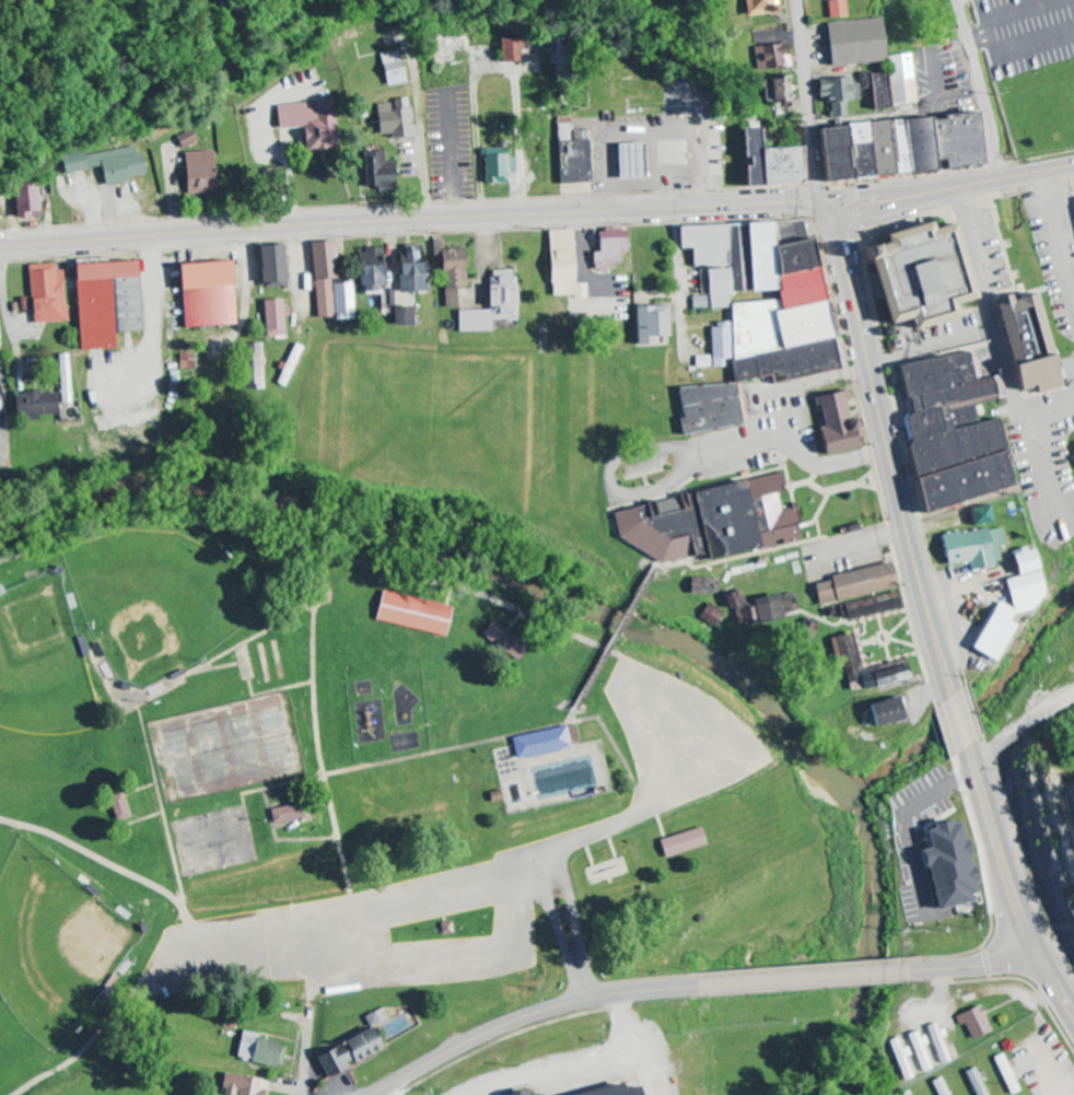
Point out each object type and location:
building: (758, 7)
building: (834, 9)
building: (853, 42)
road: (972, 45)
building: (511, 50)
building: (771, 57)
building: (390, 68)
building: (903, 79)
building: (778, 89)
building: (875, 89)
building: (837, 94)
road: (810, 105)
road: (900, 108)
building: (395, 119)
building: (310, 123)
road: (996, 133)
building: (188, 140)
building: (896, 147)
building: (756, 156)
building: (577, 159)
building: (633, 161)
building: (109, 164)
building: (785, 165)
building: (497, 166)
building: (378, 171)
building: (198, 174)
road: (948, 188)
building: (27, 200)
road: (411, 219)
building: (608, 251)
building: (268, 265)
building: (561, 267)
building: (410, 269)
building: (366, 270)
building: (450, 272)
building: (917, 275)
building: (328, 284)
building: (45, 294)
building: (203, 294)
building: (104, 303)
building: (698, 303)
building: (491, 304)
building: (396, 312)
building: (754, 316)
building: (272, 318)
building: (649, 324)
road: (1000, 327)
building: (1024, 345)
building: (289, 365)
building: (250, 366)
building: (61, 378)
building: (32, 406)
building: (836, 424)
building: (949, 432)
road: (888, 453)
building: (704, 522)
building: (971, 548)
building: (852, 584)
building: (1023, 584)
building: (704, 585)
building: (0, 593)
building: (733, 598)
building: (866, 607)
river: (600, 610)
building: (411, 614)
building: (709, 615)
building: (778, 616)
building: (990, 637)
building: (502, 642)
building: (843, 651)
building: (884, 712)
road: (959, 723)
road: (1023, 731)
parking lot: (681, 739)
building: (538, 744)
park: (358, 790)
building: (115, 807)
building: (281, 815)
building: (680, 843)
building: (944, 866)
road: (477, 872)
road: (1008, 885)
road: (567, 927)
building: (445, 929)
parking lot: (376, 937)
road: (697, 987)
road: (311, 1006)
building: (972, 1023)
building: (936, 1045)
building: (259, 1051)
building: (919, 1052)
building: (345, 1055)
building: (901, 1060)
building: (1005, 1075)
building: (973, 1082)
building: (241, 1086)
building: (938, 1087)
building: (611, 1092)

